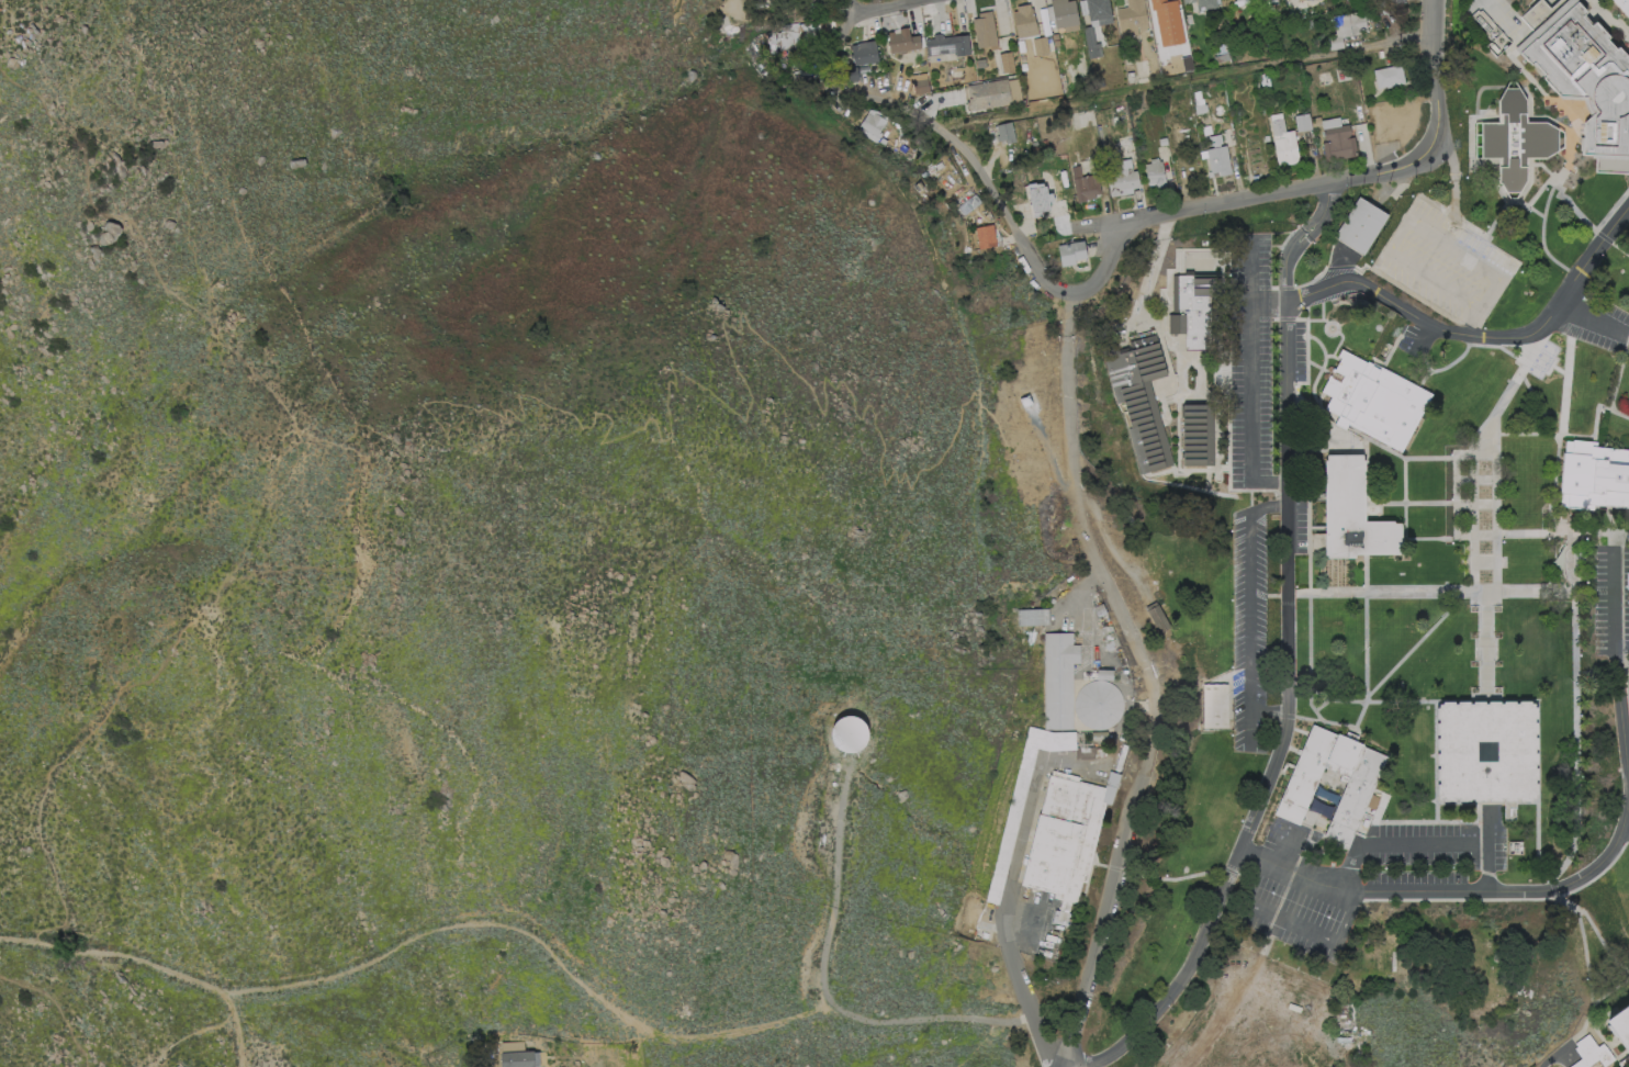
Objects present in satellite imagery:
building: (1239, 0)
building: (1295, 0)
building: (1306, 0)
building: (1392, 1)
building: (1398, 2)
building: (1203, 3)
building: (821, 4)
building: (1624, 5)
road: (886, 9)
building: (1262, 10)
building: (1066, 14)
road: (1613, 16)
building: (1282, 18)
road: (1507, 19)
building: (1132, 20)
building: (1272, 20)
building: (1025, 22)
building: (1096, 23)
building: (1311, 24)
building: (1346, 29)
building: (986, 31)
building: (797, 34)
building: (1266, 36)
building: (772, 37)
building: (878, 37)
building: (1055, 37)
building: (902, 41)
building: (1056, 43)
building: (948, 45)
building: (1041, 46)
building: (865, 53)
building: (1222, 58)
building: (981, 63)
building: (1007, 63)
building: (761, 65)
road: (1433, 71)
building: (768, 74)
building: (851, 75)
building: (799, 76)
building: (1389, 76)
building: (1583, 76)
building: (1322, 77)
building: (1131, 78)
building: (1211, 85)
building: (921, 87)
building: (988, 96)
building: (1022, 103)
building: (1199, 103)
road: (746, 120)
building: (1316, 122)
building: (1303, 123)
building: (873, 124)
building: (1401, 124)
road: (936, 127)
building: (1006, 133)
building: (1514, 139)
building: (883, 142)
building: (1164, 142)
building: (1339, 143)
building: (1284, 144)
building: (1036, 148)
building: (1218, 156)
building: (932, 171)
building: (1155, 173)
building: (925, 175)
building: (1123, 178)
building: (1086, 188)
road: (1454, 191)
building: (1040, 198)
road: (1234, 202)
building: (970, 204)
road: (1526, 204)
road: (1569, 204)
road: (1321, 211)
road: (1611, 211)
road: (1408, 220)
building: (1360, 224)
road: (1165, 228)
building: (986, 236)
road: (1603, 237)
road: (1620, 248)
building: (1071, 252)
road: (1182, 261)
parking lot: (1447, 261)
road: (1341, 265)
road: (1218, 270)
road: (1148, 277)
road: (1223, 278)
road: (942, 279)
road: (1323, 287)
road: (217, 296)
road: (1233, 304)
road: (1268, 304)
road: (734, 305)
road: (383, 306)
building: (1195, 307)
road: (1161, 308)
road: (1166, 314)
road: (1443, 315)
road: (1289, 318)
road: (1325, 321)
road: (1593, 322)
road: (1154, 323)
road: (1326, 323)
parking lot: (1602, 323)
road: (1473, 325)
fountain: (1330, 327)
road: (1437, 334)
road: (1479, 336)
parking lot: (1416, 339)
road: (1535, 341)
road: (1482, 345)
road: (1337, 346)
road: (1321, 348)
parking lot: (1300, 349)
road: (1391, 350)
road: (1510, 355)
road: (1250, 356)
parking lot: (1250, 359)
road: (1307, 362)
road: (1324, 369)
road: (252, 372)
road: (1618, 373)
road: (1182, 377)
road: (1406, 377)
road: (1423, 378)
road: (1170, 385)
building: (1138, 396)
road: (1190, 397)
road: (1319, 398)
building: (1025, 400)
building: (1373, 400)
road: (1316, 401)
road: (1536, 403)
road: (821, 405)
road: (1216, 407)
road: (1597, 407)
road: (1496, 408)
road: (1068, 413)
road: (1027, 416)
road: (1231, 418)
road: (1318, 423)
road: (1560, 433)
building: (1198, 434)
road: (1517, 434)
road: (1573, 437)
road: (1478, 446)
road: (1388, 448)
parking lot: (1345, 449)
road: (1179, 453)
road: (1441, 458)
road: (1051, 462)
road: (1223, 469)
road: (1186, 472)
road: (1160, 473)
building: (1594, 475)
road: (1464, 480)
road: (1484, 480)
road: (1218, 481)
road: (1404, 481)
road: (1377, 484)
road: (1294, 497)
road: (1456, 497)
road: (1316, 499)
road: (1370, 503)
road: (1429, 503)
road: (1464, 503)
road: (1484, 503)
building: (1352, 513)
road: (1610, 518)
road: (1589, 520)
road: (1496, 524)
road: (1473, 525)
parking lot: (1301, 528)
road: (1310, 528)
road: (1317, 528)
road: (1551, 532)
road: (1403, 538)
road: (1439, 538)
road: (1614, 540)
building: (1559, 560)
road: (1485, 562)
road: (1308, 571)
road: (1450, 593)
road: (1281, 595)
parking lot: (1611, 598)
road: (1613, 608)
building: (1100, 609)
road: (1248, 611)
building: (1157, 615)
building: (1032, 616)
road: (1366, 628)
parking lot: (1249, 631)
road: (1485, 644)
road: (1415, 647)
road: (1622, 665)
building: (1628, 669)
road: (139, 671)
building: (1105, 675)
building: (1057, 679)
road: (1287, 684)
road: (1336, 700)
road: (1383, 700)
road: (1435, 703)
building: (1214, 705)
building: (1098, 706)
road: (1621, 722)
road: (1249, 725)
building: (850, 732)
storage tank: (850, 732)
building: (1098, 735)
road: (1575, 741)
building: (1486, 749)
building: (1099, 752)
building: (1121, 756)
road: (1143, 775)
fountain: (1327, 790)
building: (1355, 794)
building: (1319, 808)
road: (1436, 811)
road: (1627, 821)
building: (1010, 828)
building: (1064, 838)
road: (1420, 843)
road: (1537, 843)
road: (1289, 854)
road: (1160, 876)
parking lot: (1367, 876)
road: (1456, 890)
road: (1559, 897)
road: (1006, 918)
road: (1294, 923)
road: (1381, 932)
road: (426, 934)
road: (1602, 942)
road: (1585, 955)
park: (1438, 965)
road: (822, 981)
road: (1610, 990)
road: (1588, 1011)
building: (1620, 1026)
road: (236, 1031)
road: (1580, 1031)
road: (191, 1038)
road: (1604, 1043)
building: (1591, 1054)
road: (1552, 1057)
building: (520, 1059)
road: (1626, 1065)

